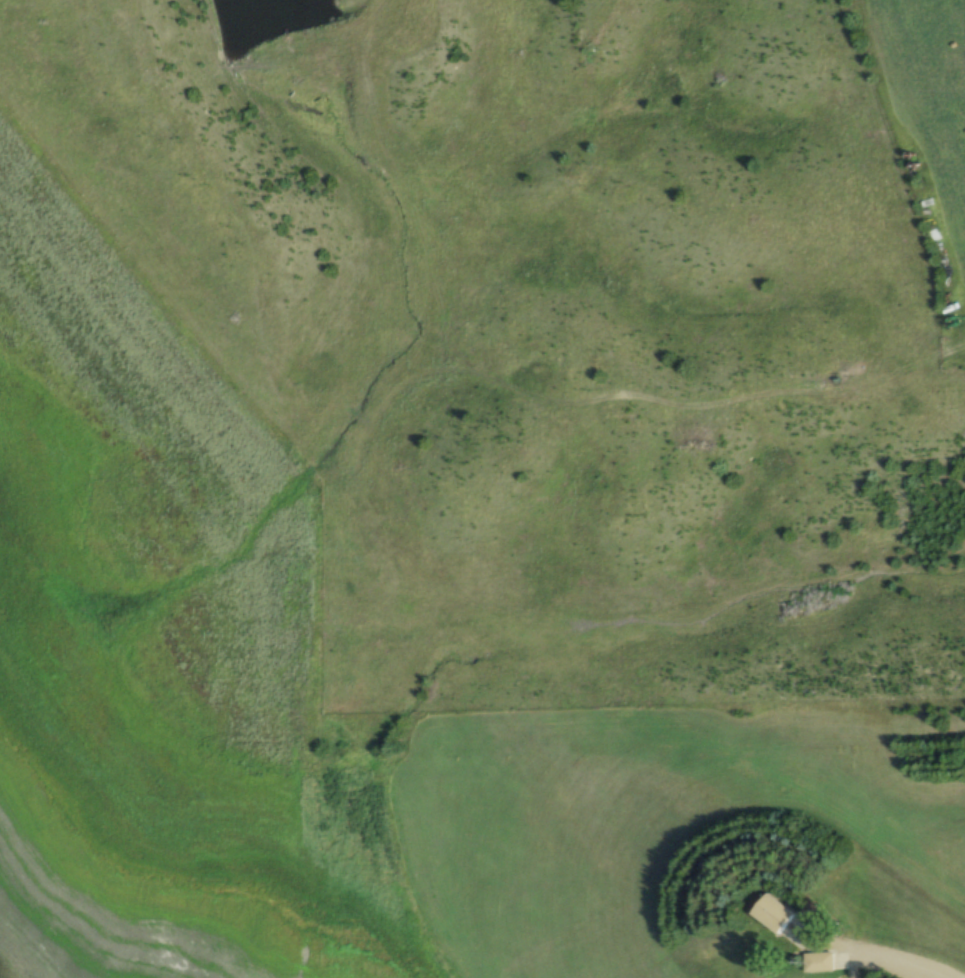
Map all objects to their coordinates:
building: (780, 912)
building: (821, 961)

